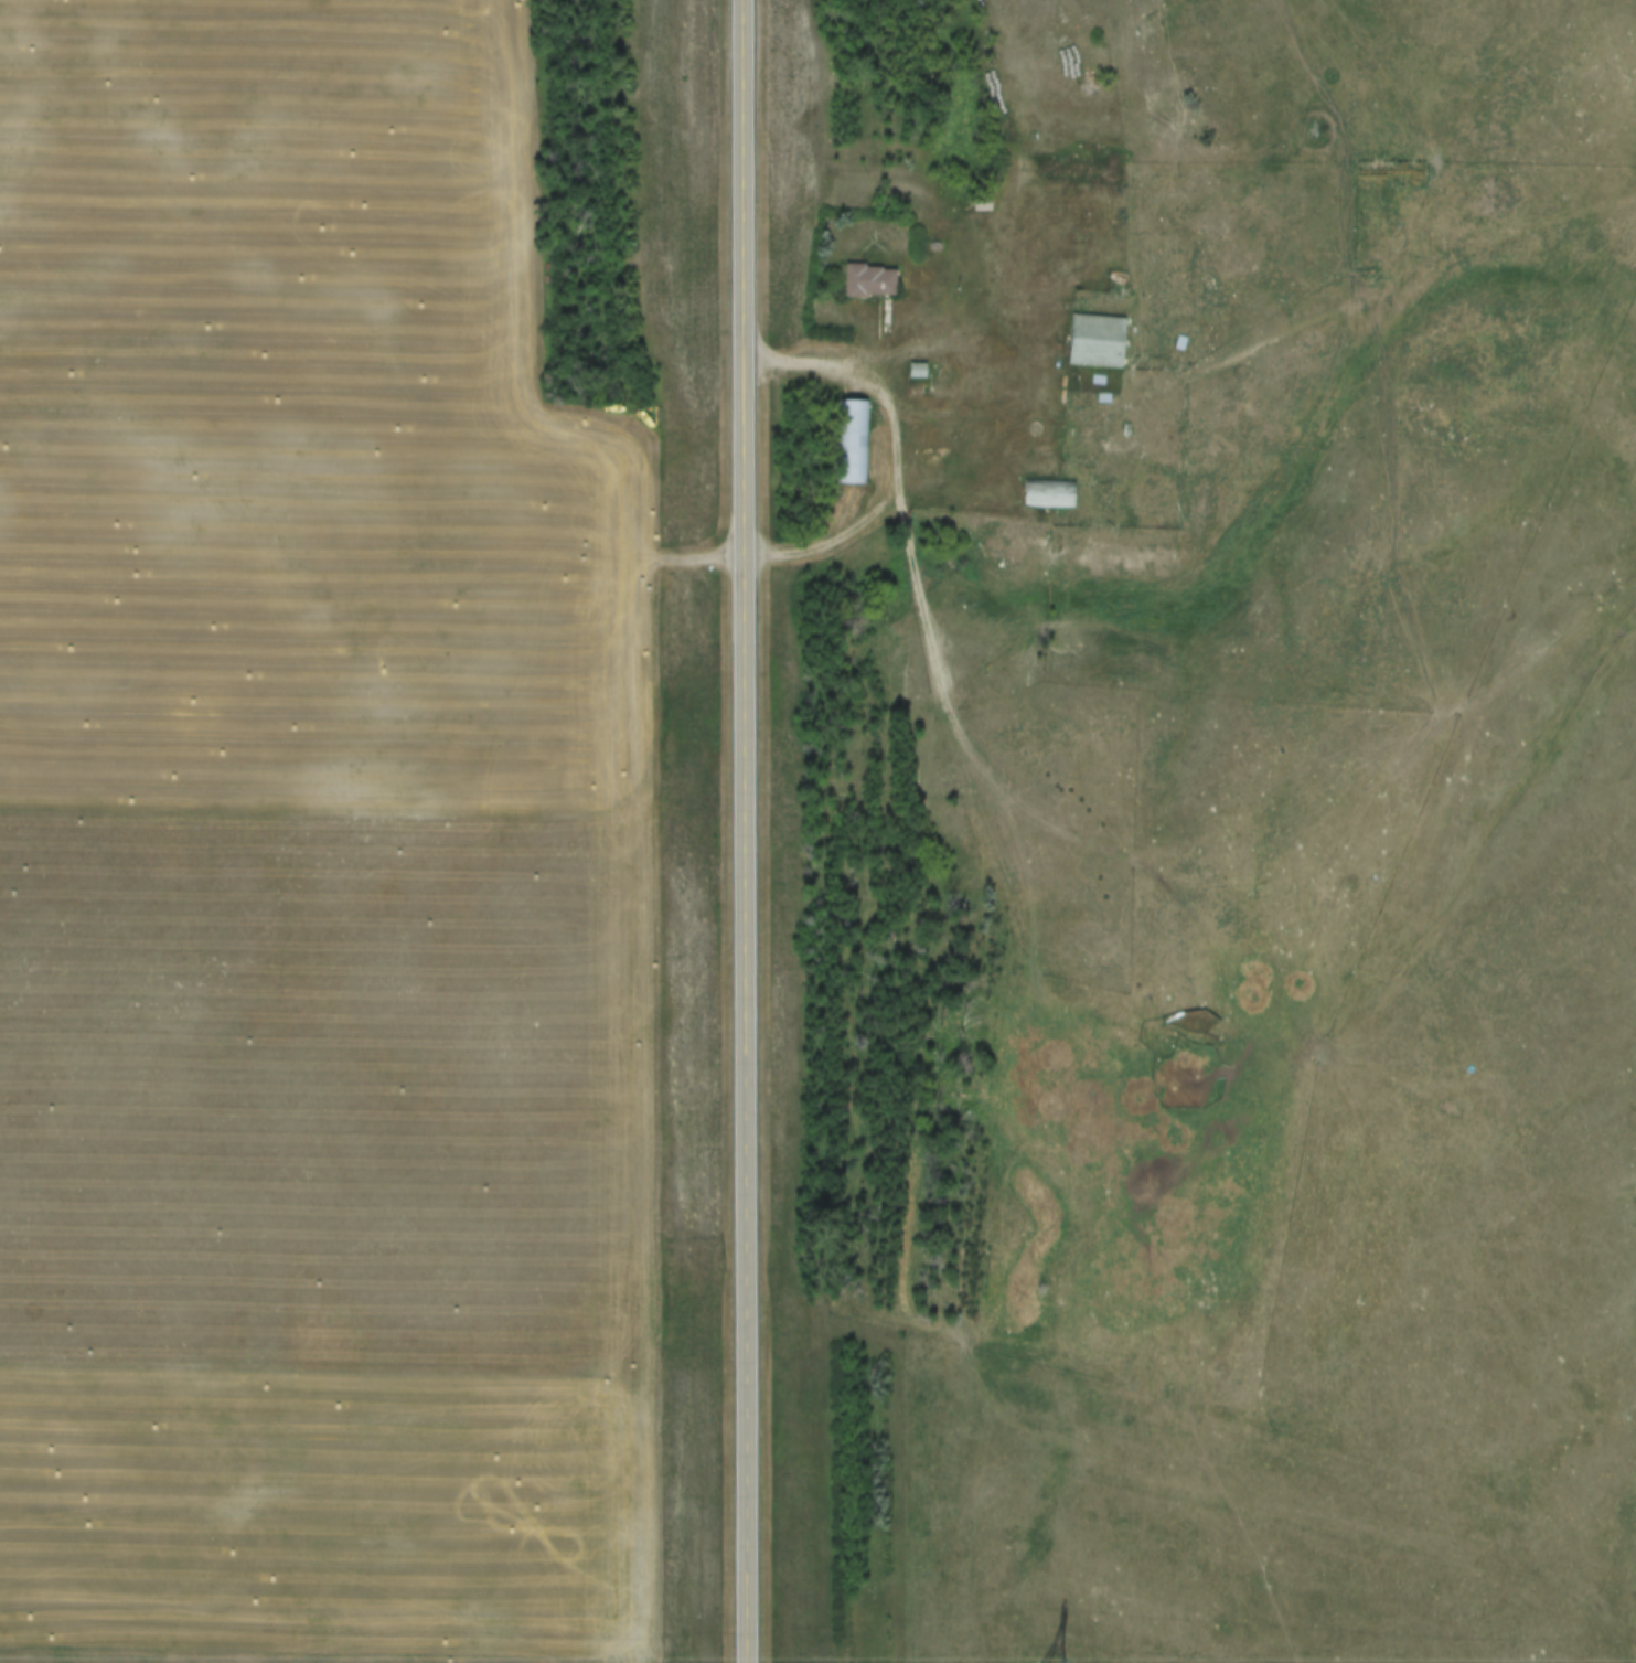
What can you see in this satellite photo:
building: (976, 203)
building: (868, 283)
building: (1094, 342)
road: (1116, 409)
building: (852, 445)
road: (897, 451)
building: (1046, 495)
road: (939, 674)
road: (741, 831)

